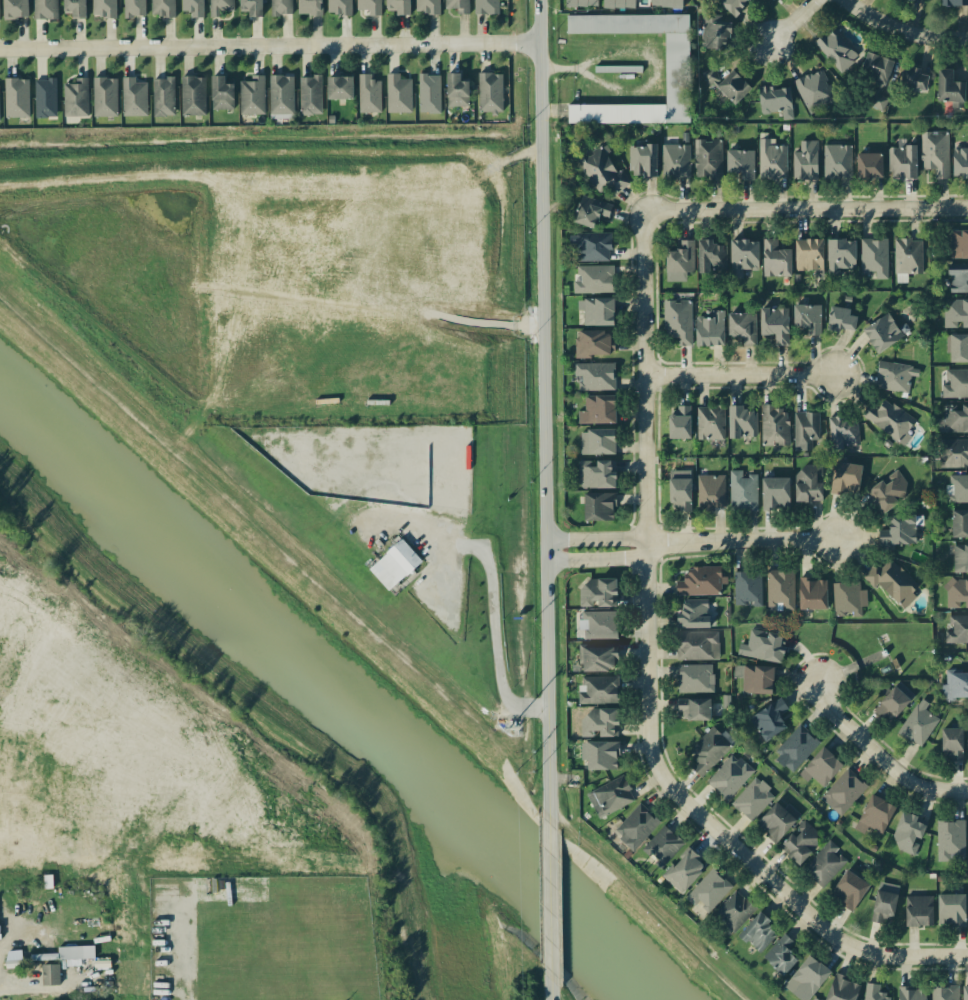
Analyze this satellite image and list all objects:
building: (911, 0)
building: (575, 2)
building: (617, 2)
building: (952, 2)
building: (659, 3)
building: (336, 5)
building: (39, 6)
building: (68, 6)
building: (188, 6)
building: (218, 6)
building: (278, 6)
building: (308, 6)
building: (366, 6)
building: (394, 6)
building: (424, 6)
building: (453, 6)
building: (484, 6)
building: (728, 6)
building: (11, 7)
building: (102, 7)
building: (133, 7)
building: (160, 7)
building: (246, 7)
road: (795, 22)
road: (906, 26)
building: (709, 31)
building: (832, 43)
road: (272, 45)
road: (650, 56)
building: (870, 65)
building: (673, 67)
building: (616, 68)
building: (910, 75)
building: (946, 82)
building: (721, 84)
building: (336, 86)
building: (810, 87)
building: (453, 90)
building: (488, 91)
building: (426, 93)
building: (366, 94)
building: (398, 94)
building: (74, 95)
building: (103, 95)
building: (191, 95)
building: (219, 95)
building: (280, 95)
building: (308, 95)
building: (131, 96)
building: (160, 96)
building: (250, 96)
building: (17, 99)
building: (45, 99)
building: (770, 100)
building: (769, 155)
building: (931, 155)
building: (959, 158)
building: (639, 159)
building: (707, 159)
building: (674, 160)
building: (834, 160)
building: (803, 161)
building: (867, 162)
building: (739, 163)
building: (902, 163)
building: (599, 171)
road: (766, 208)
building: (583, 210)
building: (958, 243)
building: (588, 245)
building: (836, 250)
building: (708, 252)
building: (805, 252)
building: (771, 255)
building: (740, 257)
building: (872, 257)
building: (904, 257)
building: (675, 259)
building: (589, 278)
building: (951, 278)
building: (596, 310)
building: (837, 312)
building: (953, 312)
building: (805, 316)
building: (674, 321)
building: (771, 323)
building: (737, 325)
building: (705, 330)
building: (880, 330)
building: (593, 342)
building: (956, 348)
building: (592, 373)
road: (743, 374)
building: (893, 377)
building: (953, 382)
building: (594, 407)
road: (544, 412)
building: (952, 416)
building: (705, 419)
building: (890, 420)
building: (740, 421)
building: (673, 423)
building: (775, 426)
building: (840, 427)
building: (804, 430)
building: (596, 438)
building: (954, 453)
building: (594, 472)
building: (842, 477)
building: (800, 483)
building: (957, 486)
building: (676, 487)
building: (886, 487)
building: (709, 489)
building: (742, 489)
building: (772, 491)
building: (599, 506)
building: (959, 523)
building: (903, 528)
road: (746, 540)
road: (602, 543)
building: (960, 557)
building: (393, 564)
building: (890, 578)
building: (697, 580)
building: (747, 588)
building: (780, 589)
building: (589, 590)
building: (813, 591)
building: (957, 592)
building: (848, 599)
building: (692, 611)
building: (600, 625)
building: (957, 628)
road: (495, 636)
building: (700, 644)
building: (765, 645)
building: (599, 655)
building: (695, 677)
building: (758, 680)
building: (957, 685)
river: (339, 689)
building: (599, 689)
building: (891, 705)
building: (694, 707)
road: (260, 714)
road: (654, 716)
building: (768, 717)
building: (600, 721)
building: (918, 722)
building: (967, 726)
building: (952, 742)
building: (796, 747)
building: (706, 751)
building: (601, 755)
road: (885, 755)
building: (820, 768)
building: (732, 775)
building: (846, 789)
building: (609, 795)
building: (752, 797)
building: (875, 818)
building: (775, 821)
building: (635, 825)
building: (908, 833)
building: (801, 840)
building: (950, 840)
building: (662, 842)
building: (825, 863)
building: (685, 868)
building: (848, 888)
building: (707, 891)
road: (554, 898)
building: (883, 905)
building: (949, 907)
building: (918, 908)
building: (734, 910)
building: (755, 930)
building: (780, 951)
building: (59, 960)
building: (809, 973)
road: (555, 986)
building: (843, 987)
building: (878, 990)
building: (965, 991)
building: (912, 992)
building: (945, 992)

